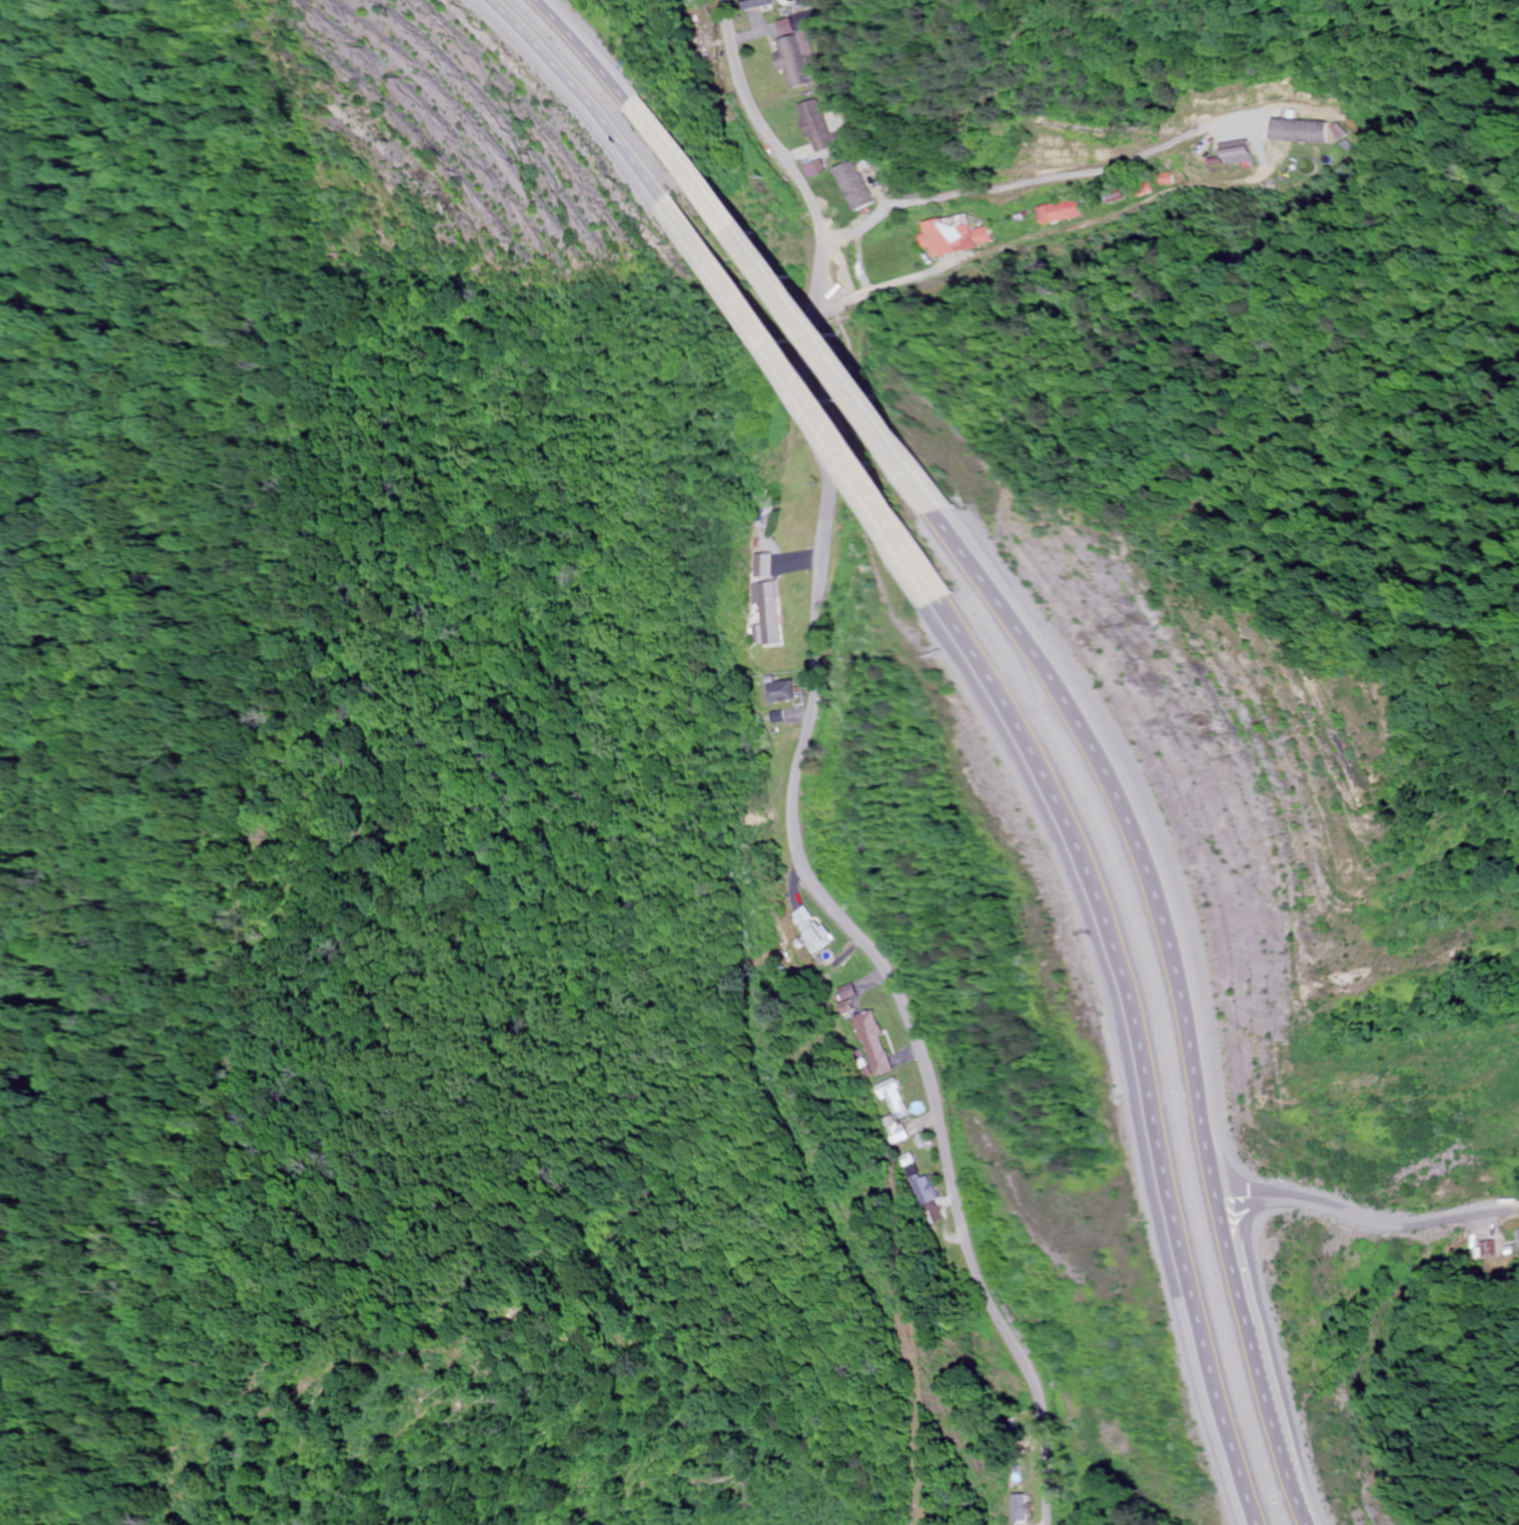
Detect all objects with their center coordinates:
road: (581, 51)
building: (799, 54)
road: (572, 99)
building: (821, 129)
building: (1289, 150)
building: (1238, 153)
building: (858, 186)
building: (1138, 189)
building: (1054, 212)
building: (954, 236)
road: (793, 304)
road: (812, 395)
building: (764, 568)
building: (768, 614)
building: (783, 692)
building: (777, 718)
road: (799, 777)
building: (848, 992)
road: (1152, 1007)
building: (874, 1043)
road: (1120, 1054)
building: (893, 1097)
building: (896, 1131)
building: (925, 1141)
road: (1212, 1176)
building: (929, 1200)
road: (1400, 1218)
building: (1518, 1236)
road: (1232, 1281)
building: (1097, 1366)
building: (1018, 1509)

